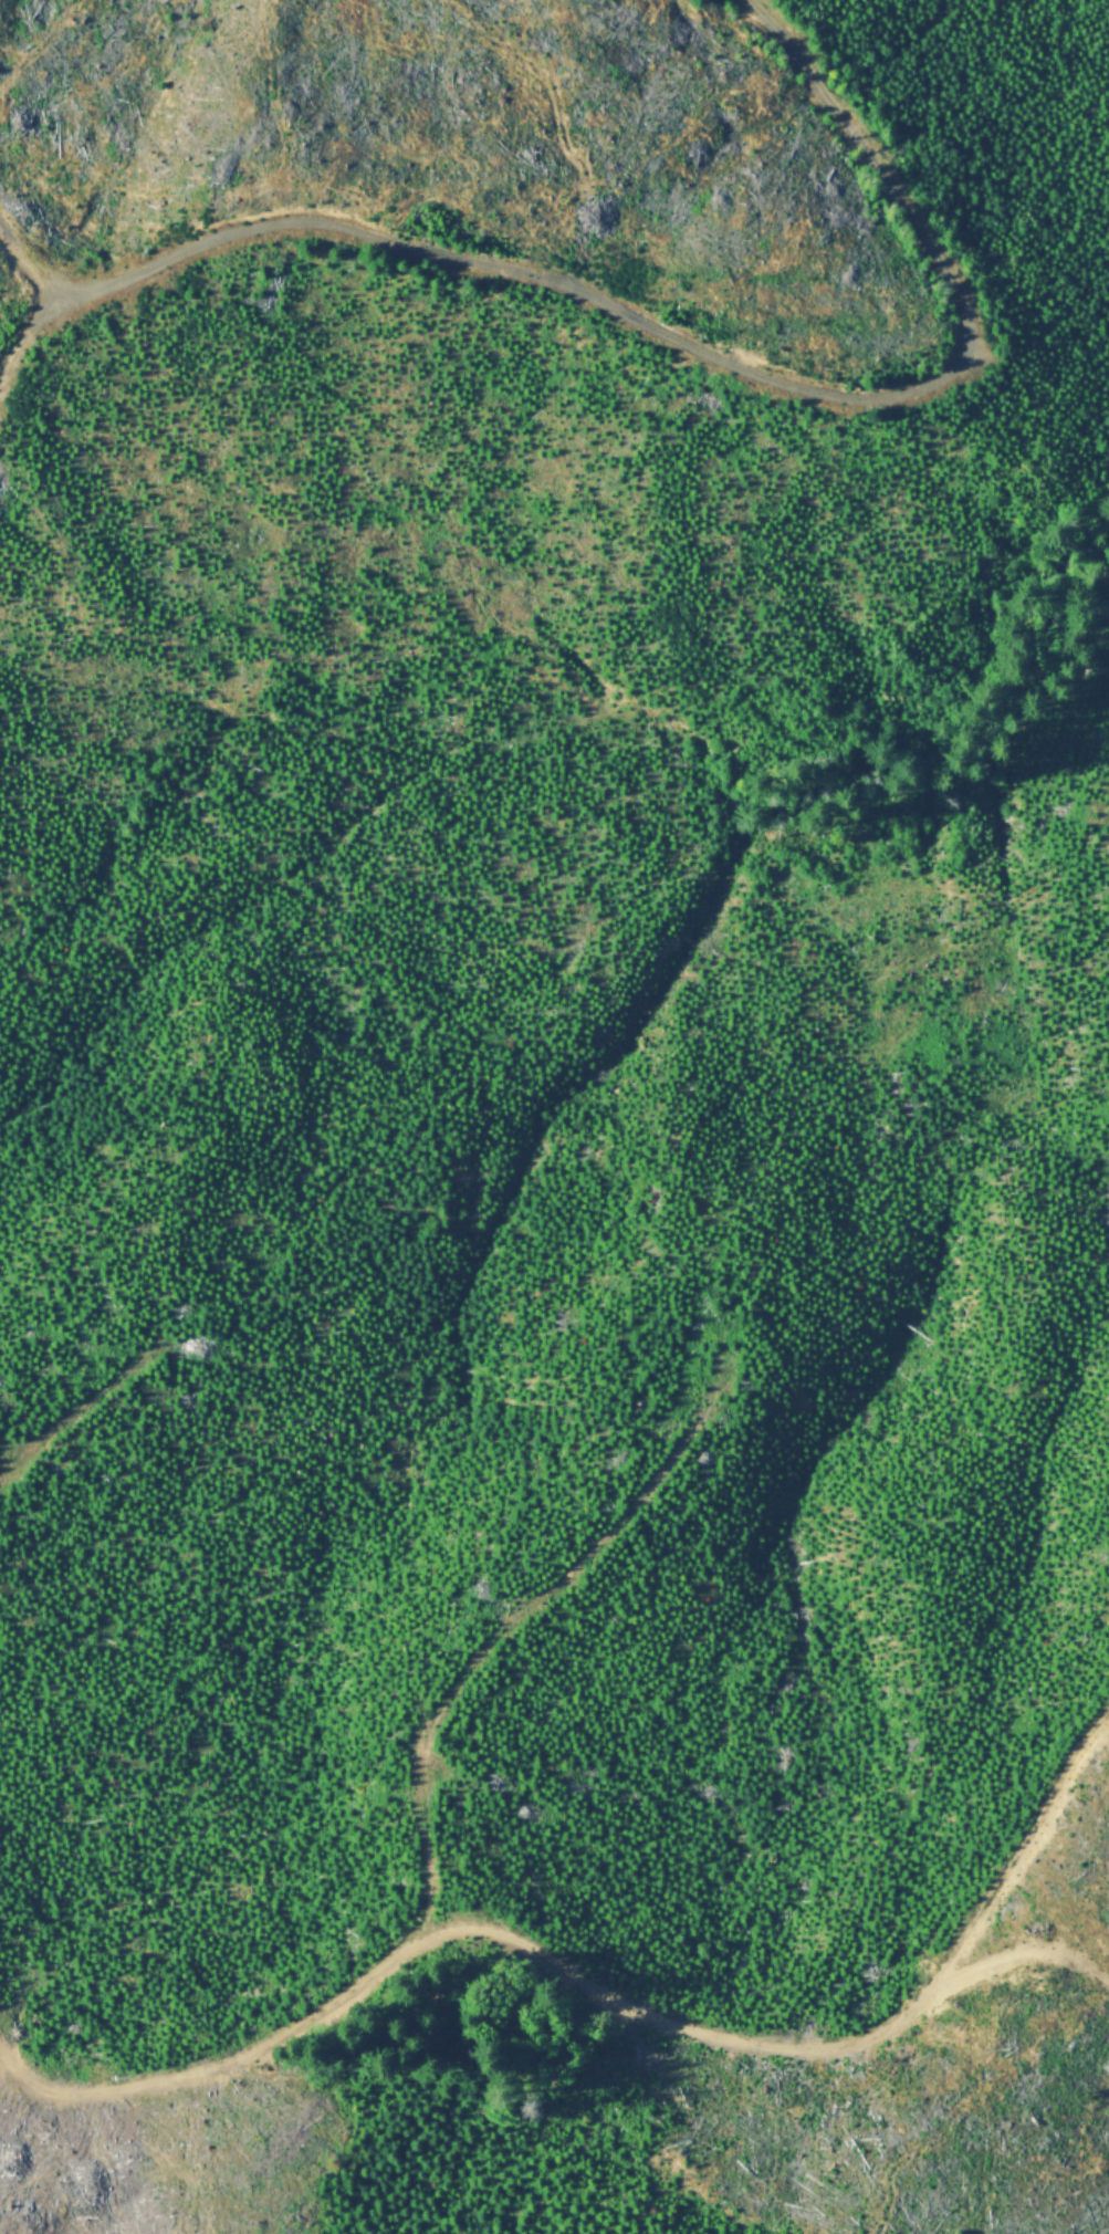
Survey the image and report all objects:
road: (667, 336)
road: (77, 1409)
road: (425, 1841)
road: (828, 2043)

